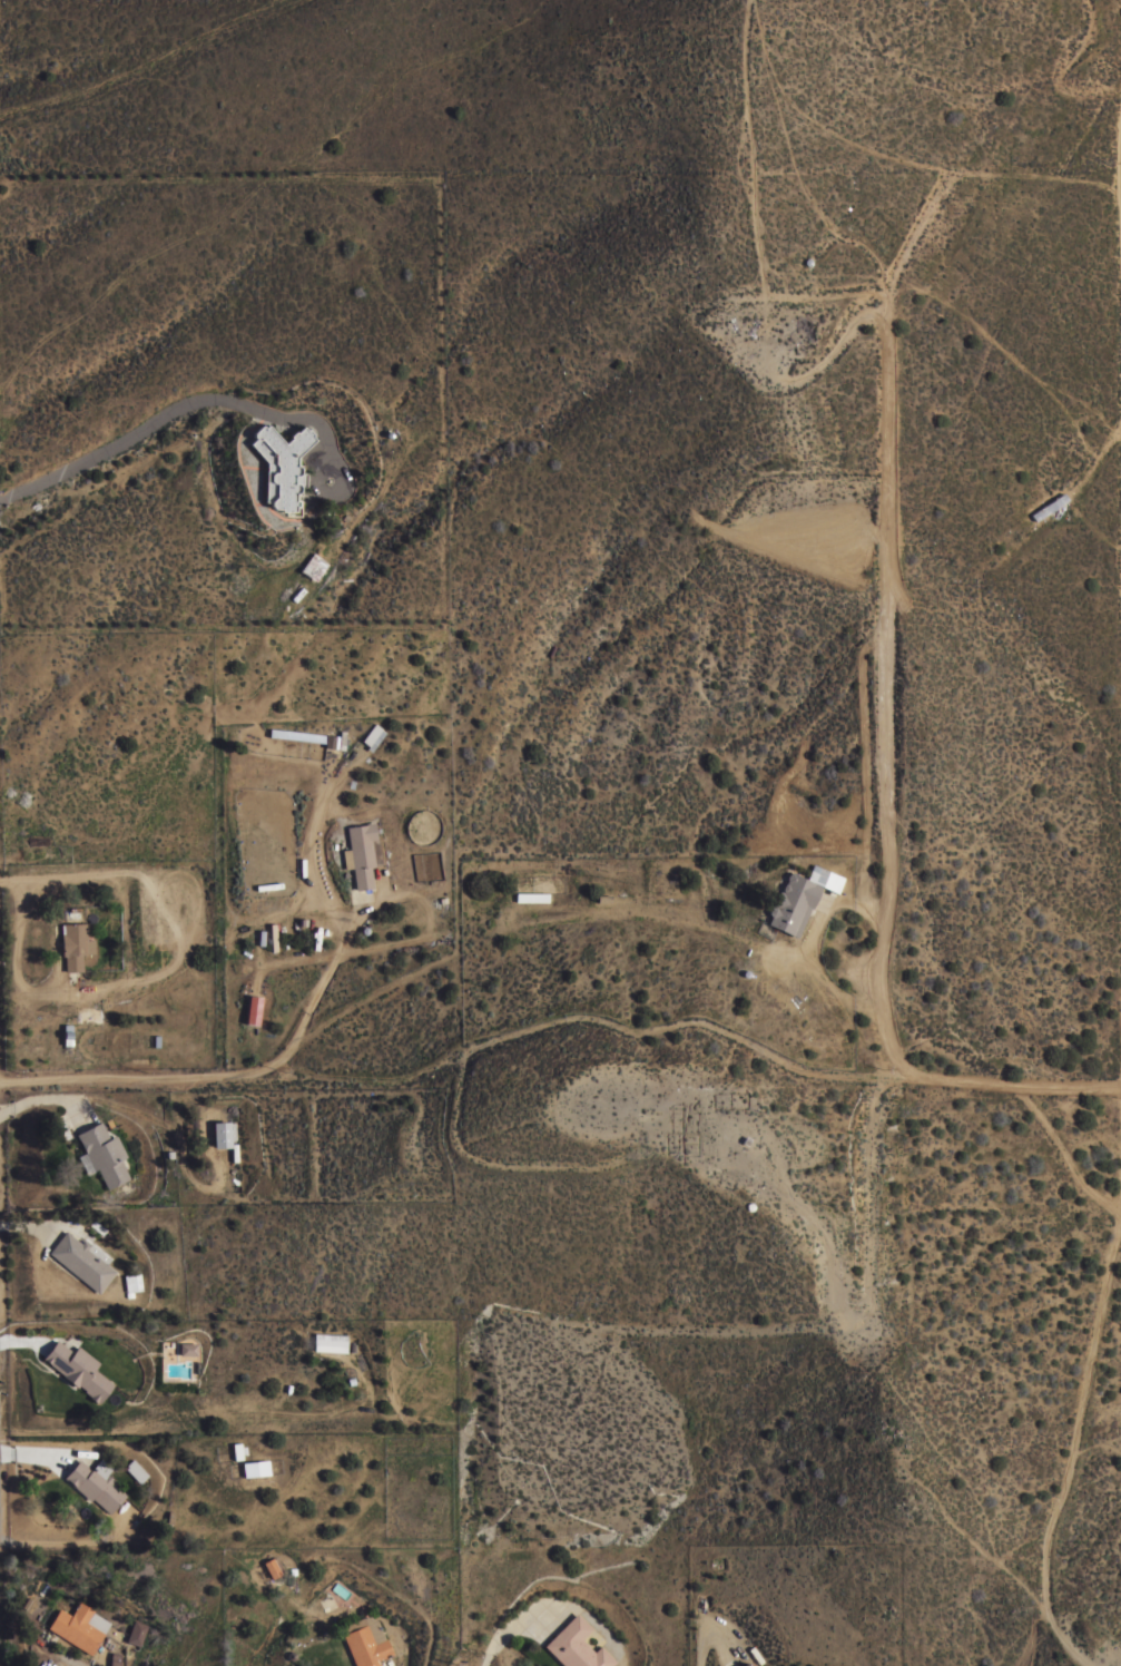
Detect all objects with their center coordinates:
road: (181, 406)
building: (281, 464)
building: (1048, 506)
building: (313, 737)
building: (373, 737)
building: (360, 853)
building: (532, 896)
building: (799, 899)
road: (813, 939)
road: (341, 943)
building: (75, 944)
building: (252, 1010)
road: (563, 1017)
building: (220, 1134)
building: (102, 1153)
road: (1064, 1154)
building: (82, 1260)
building: (131, 1283)
building: (330, 1343)
building: (188, 1349)
building: (78, 1369)
road: (1072, 1448)
building: (236, 1450)
building: (255, 1468)
building: (136, 1470)
building: (95, 1484)
building: (273, 1566)
building: (79, 1626)
road: (712, 1628)
building: (136, 1633)
building: (366, 1641)
building: (576, 1646)
building: (114, 1658)
road: (488, 1662)
building: (747, 1664)

